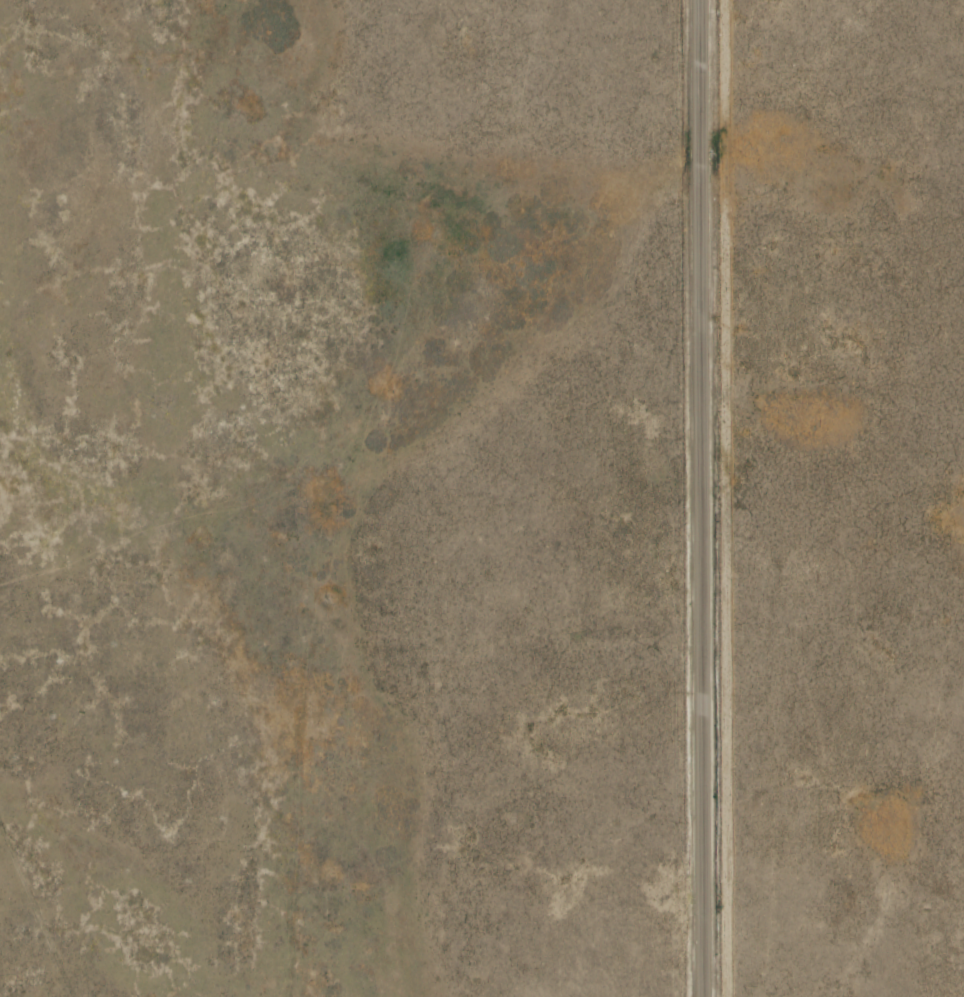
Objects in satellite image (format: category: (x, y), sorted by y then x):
road: (703, 498)

